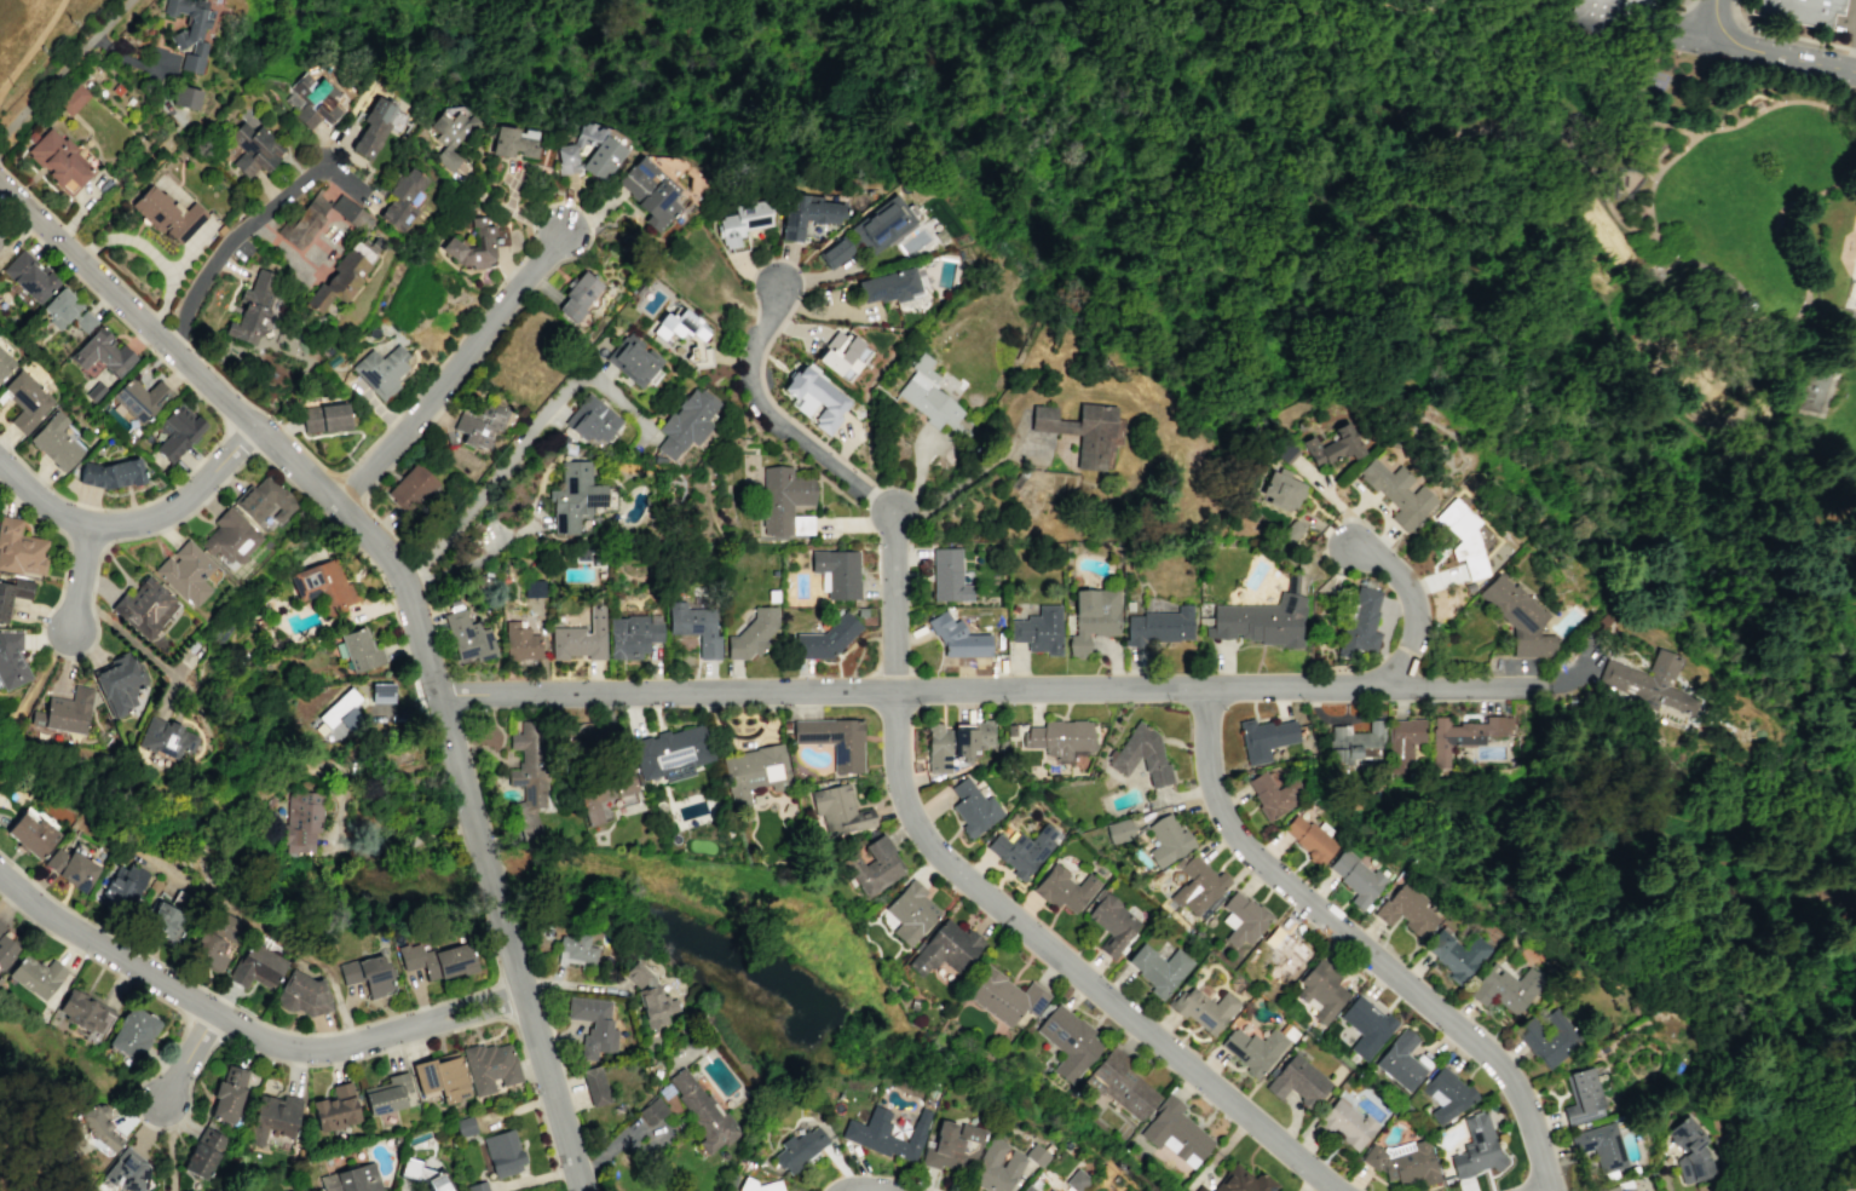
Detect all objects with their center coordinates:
road: (1410, 8)
building: (1800, 11)
road: (1718, 13)
building: (1596, 16)
road: (1667, 17)
parking lot: (1848, 22)
building: (190, 30)
road: (1700, 31)
road: (1785, 36)
road: (1714, 41)
road: (39, 52)
building: (47, 56)
road: (1785, 58)
road: (129, 59)
road: (1758, 63)
road: (1855, 67)
road: (65, 69)
road: (1654, 71)
parking lot: (1691, 76)
parking lot: (1849, 88)
building: (185, 97)
road: (1460, 98)
building: (73, 99)
building: (312, 100)
road: (1538, 121)
road: (1840, 123)
building: (373, 127)
building: (451, 133)
road: (1851, 139)
building: (513, 142)
building: (253, 146)
road: (1251, 150)
building: (588, 151)
building: (59, 161)
building: (647, 191)
road: (1614, 196)
building: (403, 197)
road: (34, 198)
road: (1470, 203)
building: (166, 214)
building: (805, 214)
building: (358, 220)
building: (740, 220)
road: (244, 225)
building: (882, 225)
park: (1615, 231)
building: (1, 241)
building: (475, 243)
road: (87, 251)
building: (835, 252)
road: (186, 253)
road: (151, 254)
road: (1708, 264)
building: (342, 275)
building: (29, 276)
road: (122, 283)
building: (887, 286)
building: (578, 294)
road: (1613, 300)
building: (60, 307)
building: (253, 307)
road: (1798, 309)
road: (156, 317)
building: (85, 321)
road: (1696, 322)
road: (165, 326)
road: (177, 338)
road: (167, 340)
building: (103, 353)
building: (842, 355)
building: (633, 359)
building: (5, 363)
road: (437, 364)
road: (448, 369)
building: (380, 372)
park: (1747, 379)
road: (1849, 381)
building: (1825, 389)
building: (927, 395)
building: (139, 398)
building: (814, 398)
building: (25, 399)
road: (213, 410)
building: (324, 418)
building: (1042, 418)
road: (778, 419)
building: (590, 420)
building: (686, 422)
building: (479, 424)
building: (1065, 426)
park: (1609, 427)
building: (177, 431)
road: (346, 431)
building: (1093, 435)
building: (56, 442)
road: (242, 443)
building: (1333, 445)
road: (519, 447)
building: (1285, 451)
road: (1821, 460)
building: (111, 473)
road: (962, 483)
building: (410, 488)
building: (1281, 489)
building: (1396, 493)
building: (573, 496)
building: (264, 501)
building: (784, 501)
road: (136, 528)
building: (1290, 531)
road: (1684, 534)
road: (497, 535)
building: (231, 537)
building: (1462, 537)
road: (85, 541)
building: (19, 548)
road: (371, 565)
building: (185, 573)
building: (837, 573)
building: (947, 575)
road: (80, 580)
building: (323, 585)
building: (534, 588)
road: (404, 589)
building: (12, 593)
road: (59, 595)
road: (893, 604)
road: (1416, 605)
building: (144, 606)
road: (92, 609)
building: (1091, 616)
building: (1517, 617)
building: (1260, 621)
building: (1360, 622)
building: (1158, 626)
building: (694, 627)
building: (1038, 629)
building: (751, 633)
building: (633, 634)
building: (581, 637)
building: (957, 637)
building: (467, 638)
building: (826, 638)
building: (520, 641)
building: (358, 650)
road: (143, 651)
building: (11, 660)
road: (1583, 680)
building: (119, 681)
building: (1650, 681)
road: (29, 689)
road: (1472, 690)
building: (381, 692)
road: (915, 694)
road: (1550, 706)
building: (64, 713)
park: (5, 730)
building: (1463, 735)
building: (1059, 737)
building: (1264, 737)
building: (1353, 740)
building: (166, 741)
building: (832, 741)
building: (955, 742)
building: (1403, 742)
building: (671, 753)
building: (1141, 754)
building: (528, 770)
building: (754, 772)
road: (1533, 786)
building: (603, 790)
building: (1274, 795)
building: (973, 807)
building: (838, 810)
road: (1748, 819)
building: (302, 821)
road: (1632, 823)
building: (1117, 830)
road: (1561, 835)
building: (1166, 839)
building: (1310, 840)
building: (1021, 850)
building: (874, 865)
building: (70, 868)
road: (1737, 876)
building: (1355, 878)
building: (125, 884)
building: (1198, 886)
building: (1064, 888)
building: (1406, 910)
building: (911, 913)
building: (1241, 919)
building: (165, 920)
building: (1111, 922)
building: (224, 926)
building: (1, 927)
road: (269, 932)
road: (512, 942)
road: (1360, 947)
building: (945, 948)
building: (576, 949)
building: (6, 951)
building: (208, 951)
building: (1454, 953)
building: (1285, 954)
building: (437, 960)
road: (1070, 966)
building: (258, 967)
building: (1158, 968)
building: (368, 974)
building: (36, 976)
building: (1505, 986)
building: (1321, 990)
building: (305, 995)
building: (650, 997)
building: (1004, 997)
road: (501, 1001)
road: (472, 1002)
road: (197, 1003)
building: (1204, 1008)
building: (83, 1012)
road: (247, 1014)
road: (477, 1017)
building: (593, 1025)
building: (1366, 1025)
road: (198, 1034)
building: (133, 1035)
building: (1547, 1037)
building: (1068, 1041)
road: (211, 1047)
building: (1252, 1048)
road: (188, 1057)
building: (1400, 1061)
building: (490, 1066)
building: (440, 1078)
building: (1297, 1081)
building: (1122, 1084)
building: (594, 1086)
building: (386, 1094)
building: (1446, 1094)
building: (227, 1097)
building: (1581, 1097)
building: (335, 1107)
building: (699, 1107)
building: (651, 1111)
road: (2, 1114)
building: (273, 1117)
building: (1345, 1123)
building: (465, 1126)
building: (99, 1127)
building: (865, 1129)
building: (1175, 1133)
road: (169, 1145)
building: (1601, 1145)
building: (952, 1146)
building: (800, 1147)
building: (1477, 1150)
building: (1688, 1151)
building: (502, 1152)
building: (204, 1155)
building: (1403, 1161)
building: (996, 1167)
building: (411, 1169)
building: (128, 1170)
road: (569, 1175)
building: (351, 1179)
building: (1076, 1180)
building: (1243, 1181)
building: (437, 1183)
building: (759, 1185)
building: (477, 1186)
building: (1027, 1187)
building: (1620, 1187)
building: (1050, 1190)

